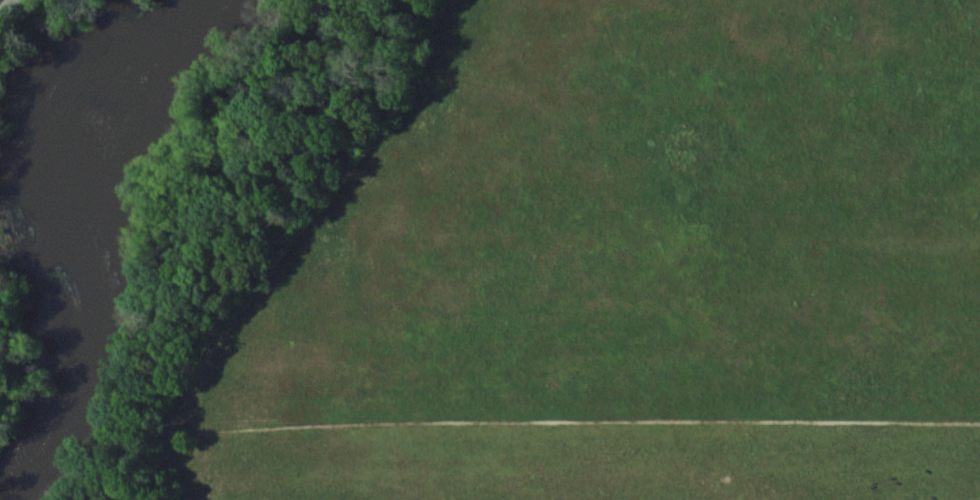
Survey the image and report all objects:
road: (695, 118)
river: (82, 223)

